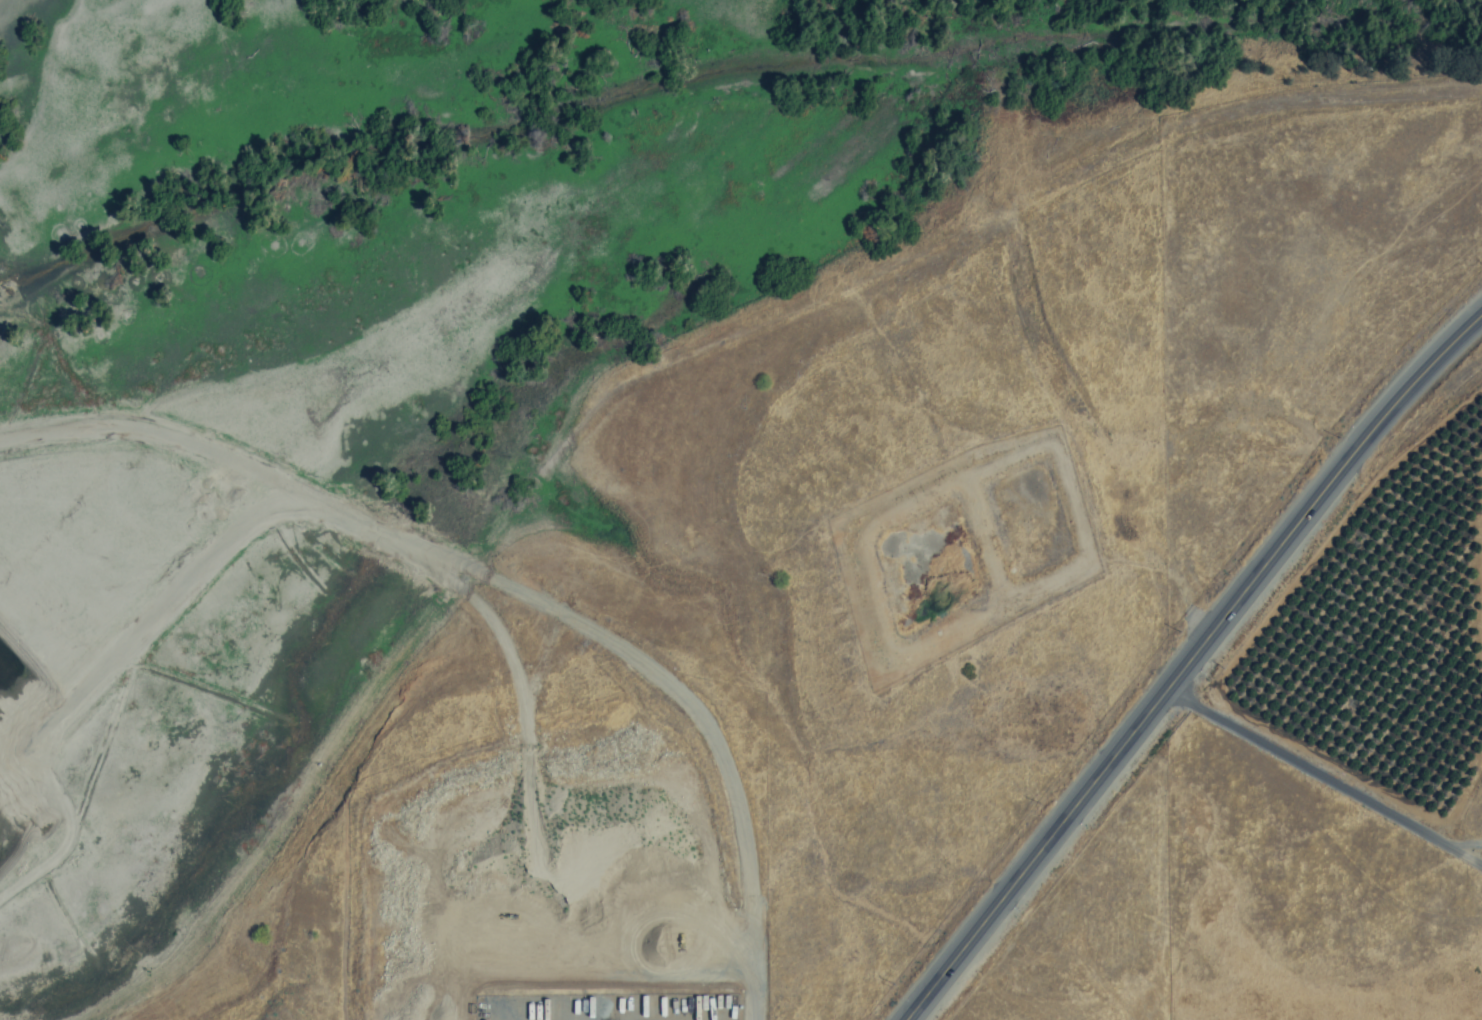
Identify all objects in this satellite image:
road: (1251, 122)
crop: (1091, 508)
crop: (1431, 610)
crop: (1331, 628)
road: (1193, 663)
road: (1313, 772)
road: (1468, 848)

